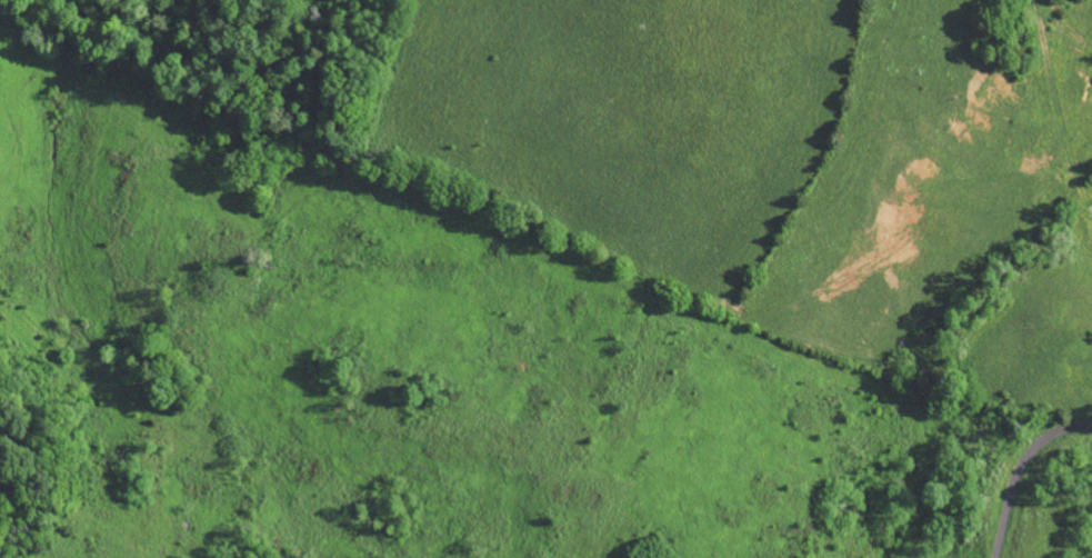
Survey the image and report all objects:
road: (1019, 470)

